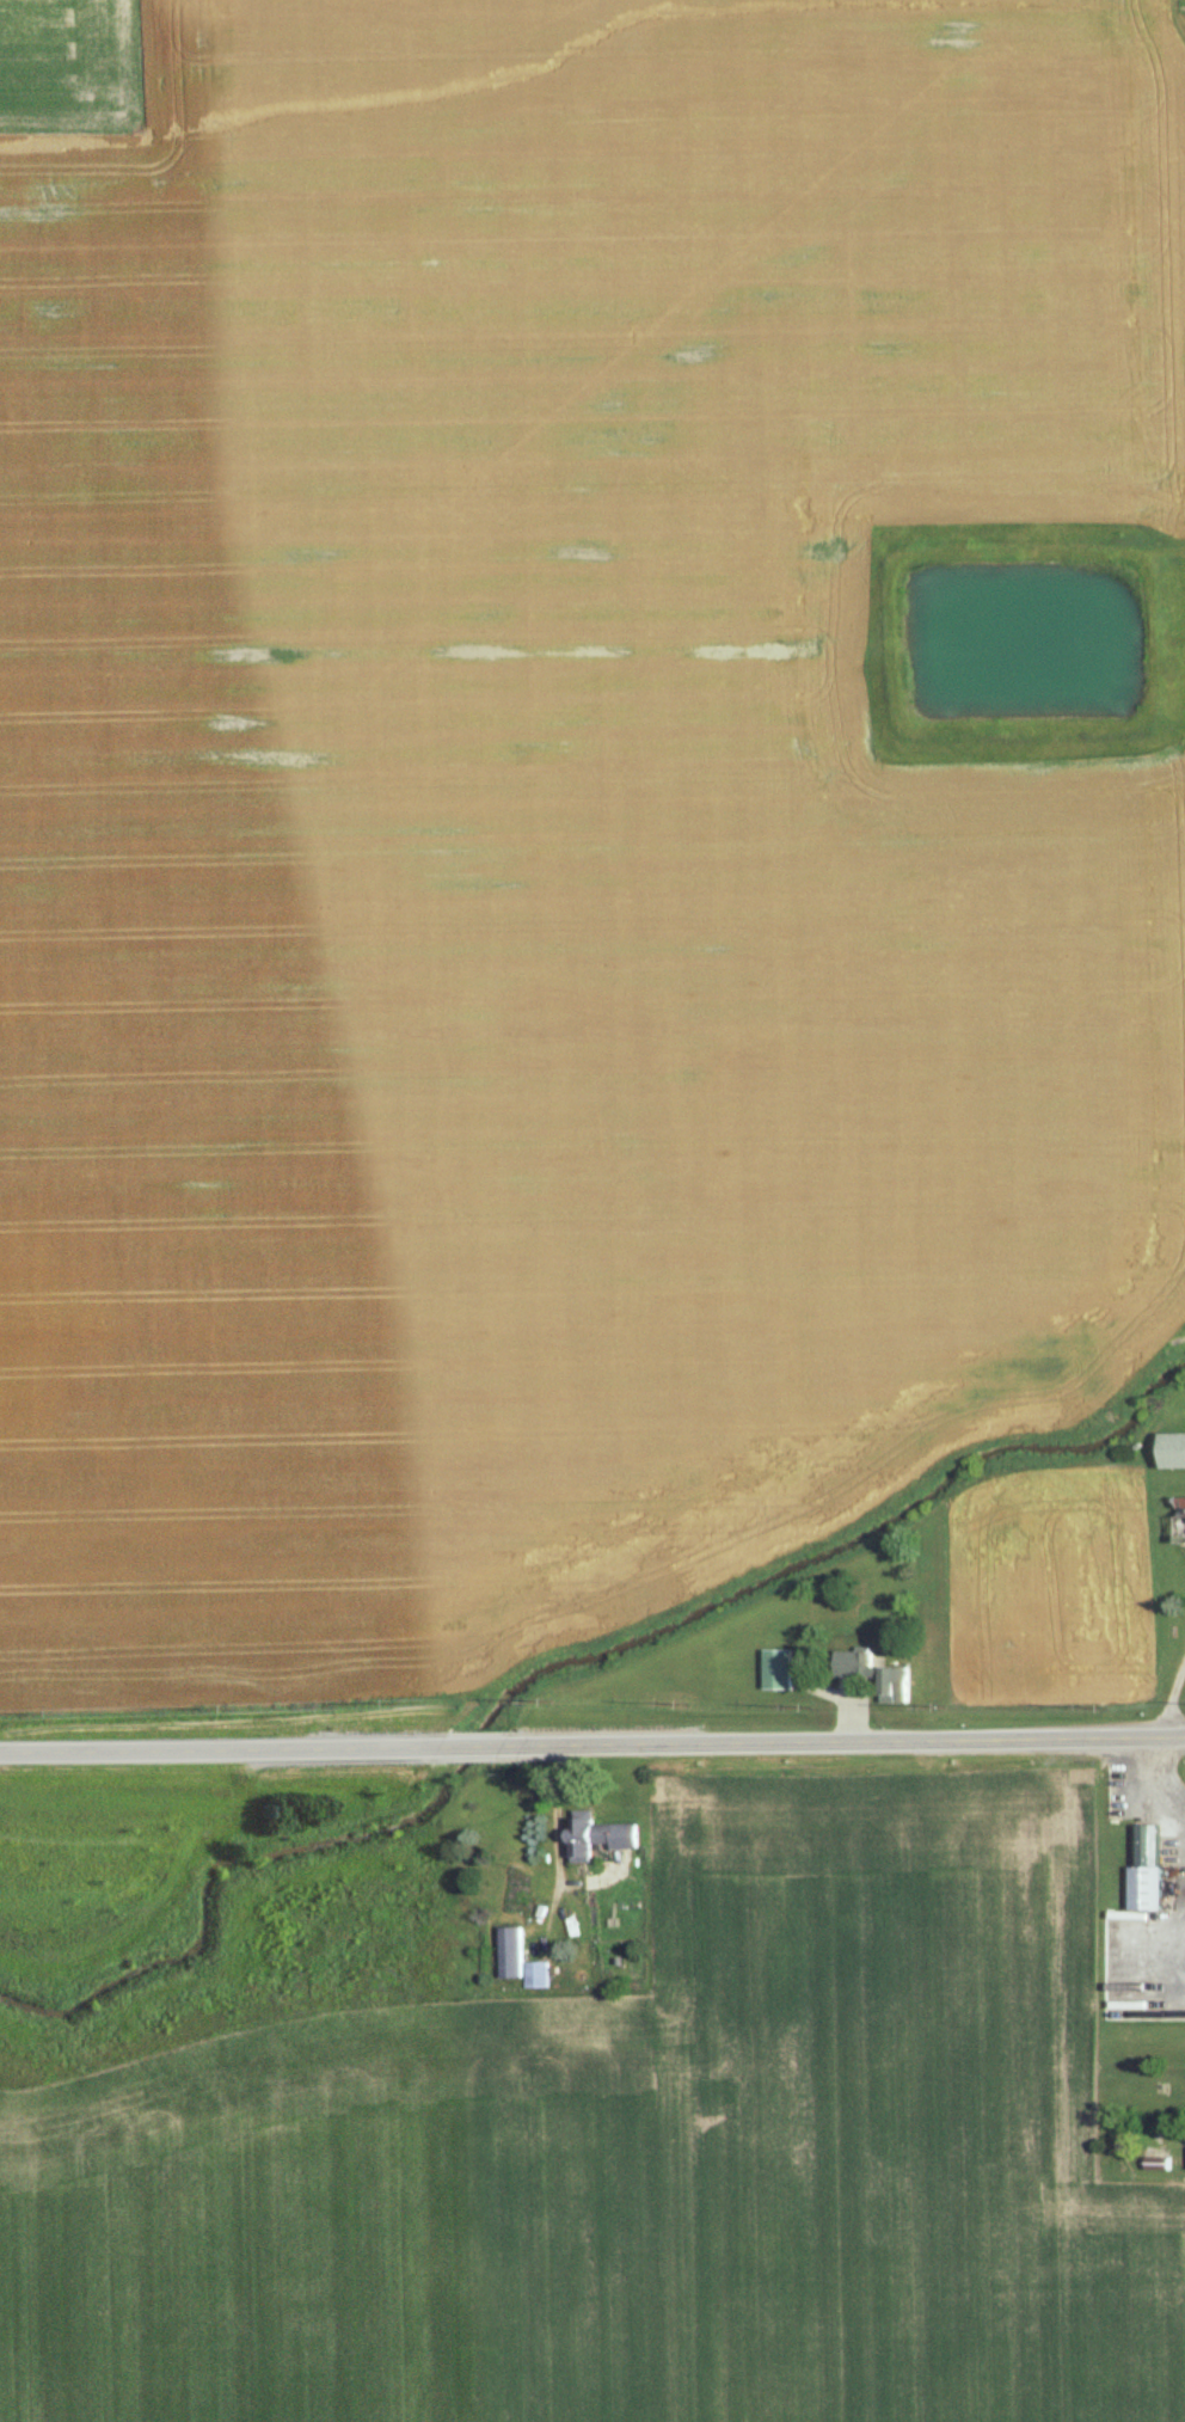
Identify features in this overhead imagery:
crop: (548, 801)
building: (1171, 1451)
building: (775, 1669)
building: (880, 1676)
road: (845, 1742)
road: (472, 1748)
road: (220, 1752)
building: (598, 1837)
building: (1146, 1870)
building: (520, 1961)
crop: (620, 2176)

